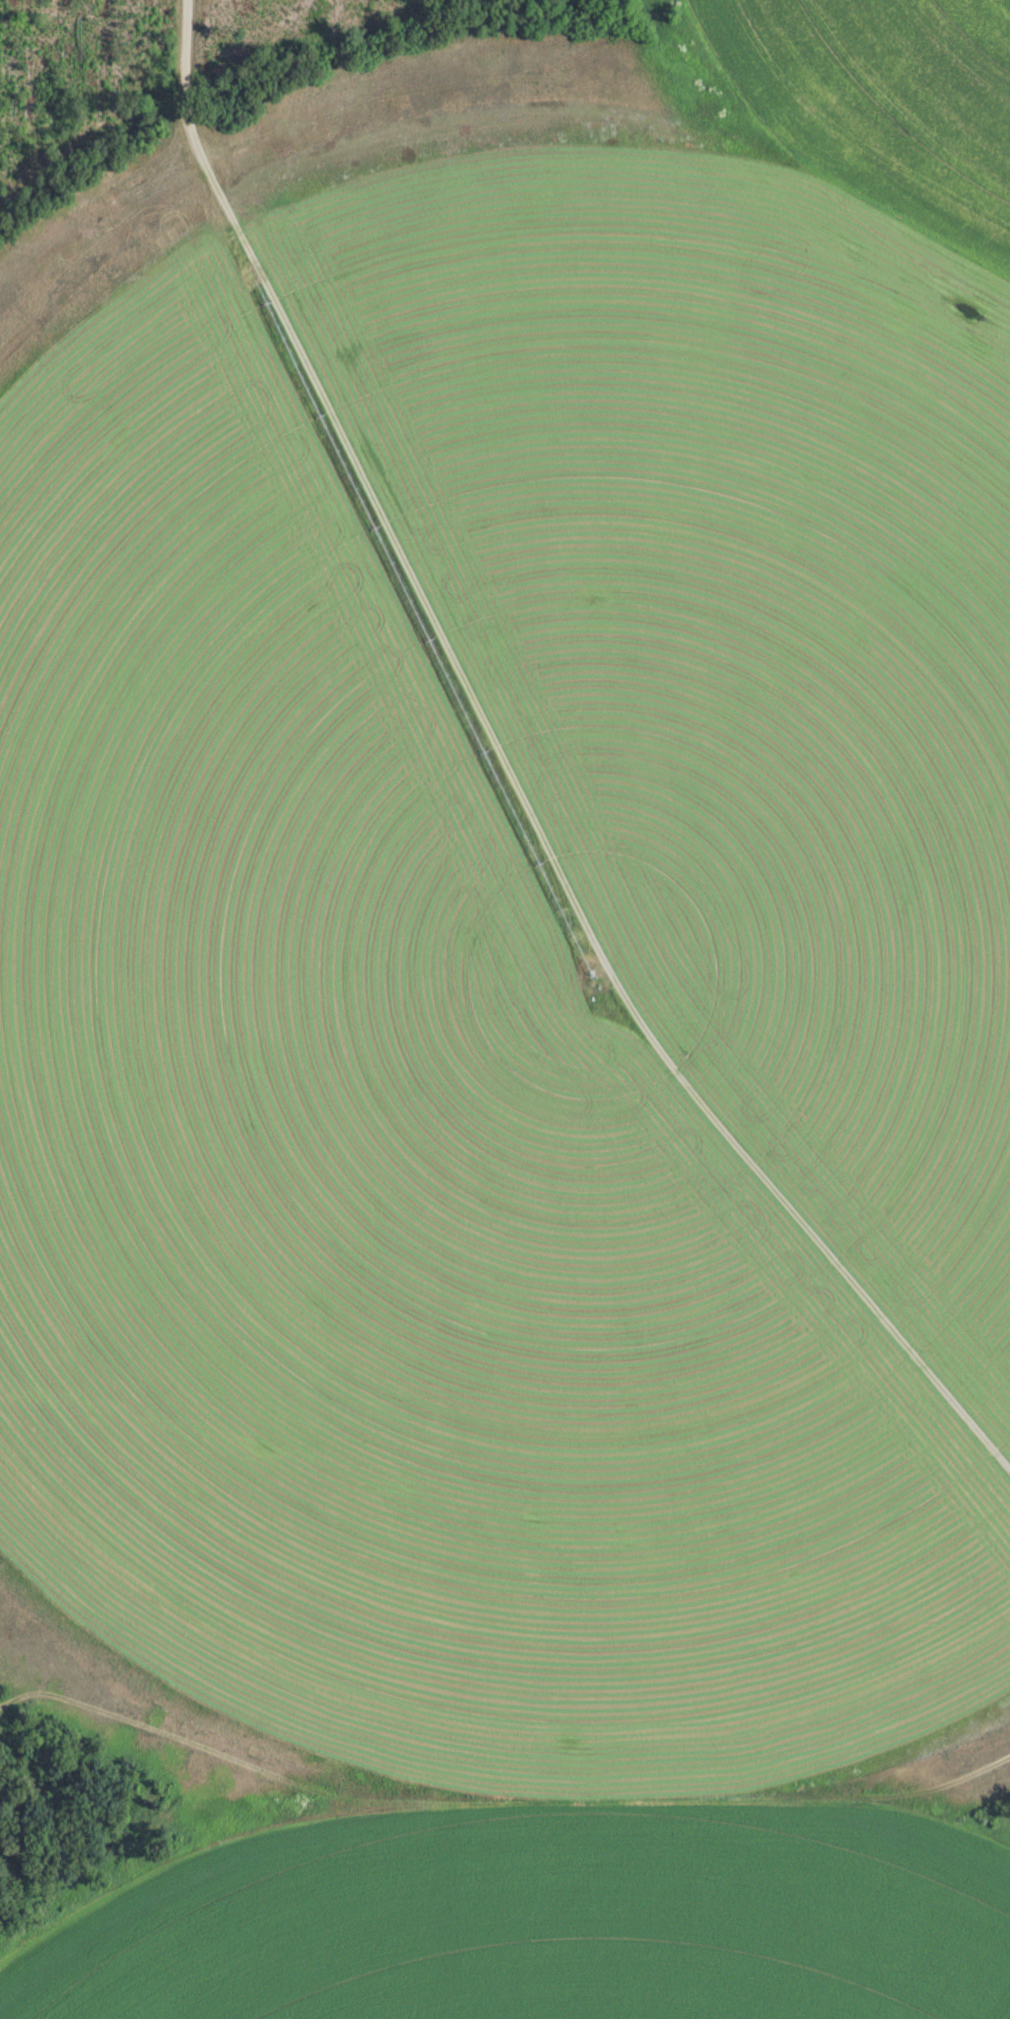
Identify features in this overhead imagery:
wastewater plant: (505, 1009)

